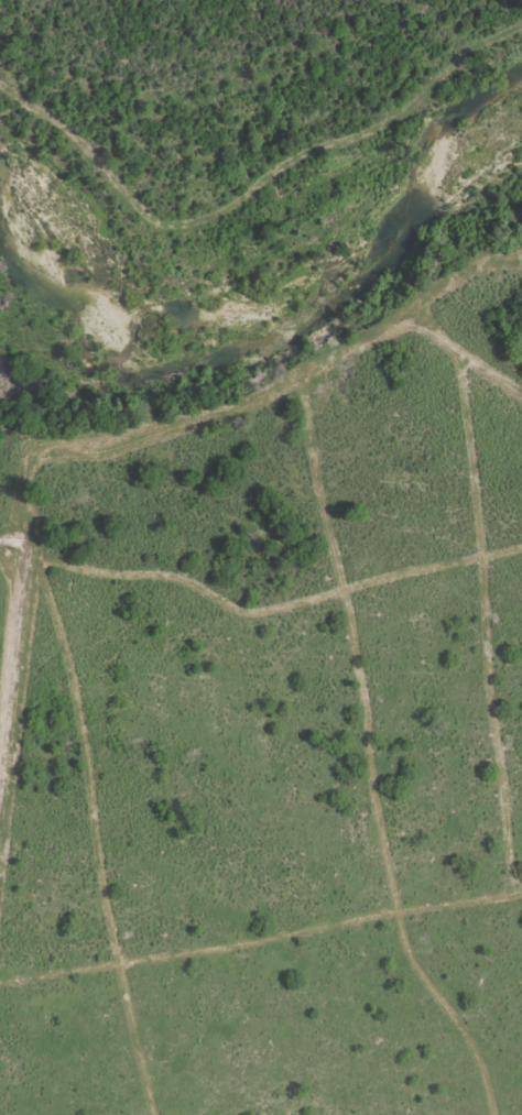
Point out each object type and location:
river: (273, 310)
road: (260, 931)
road: (105, 980)

